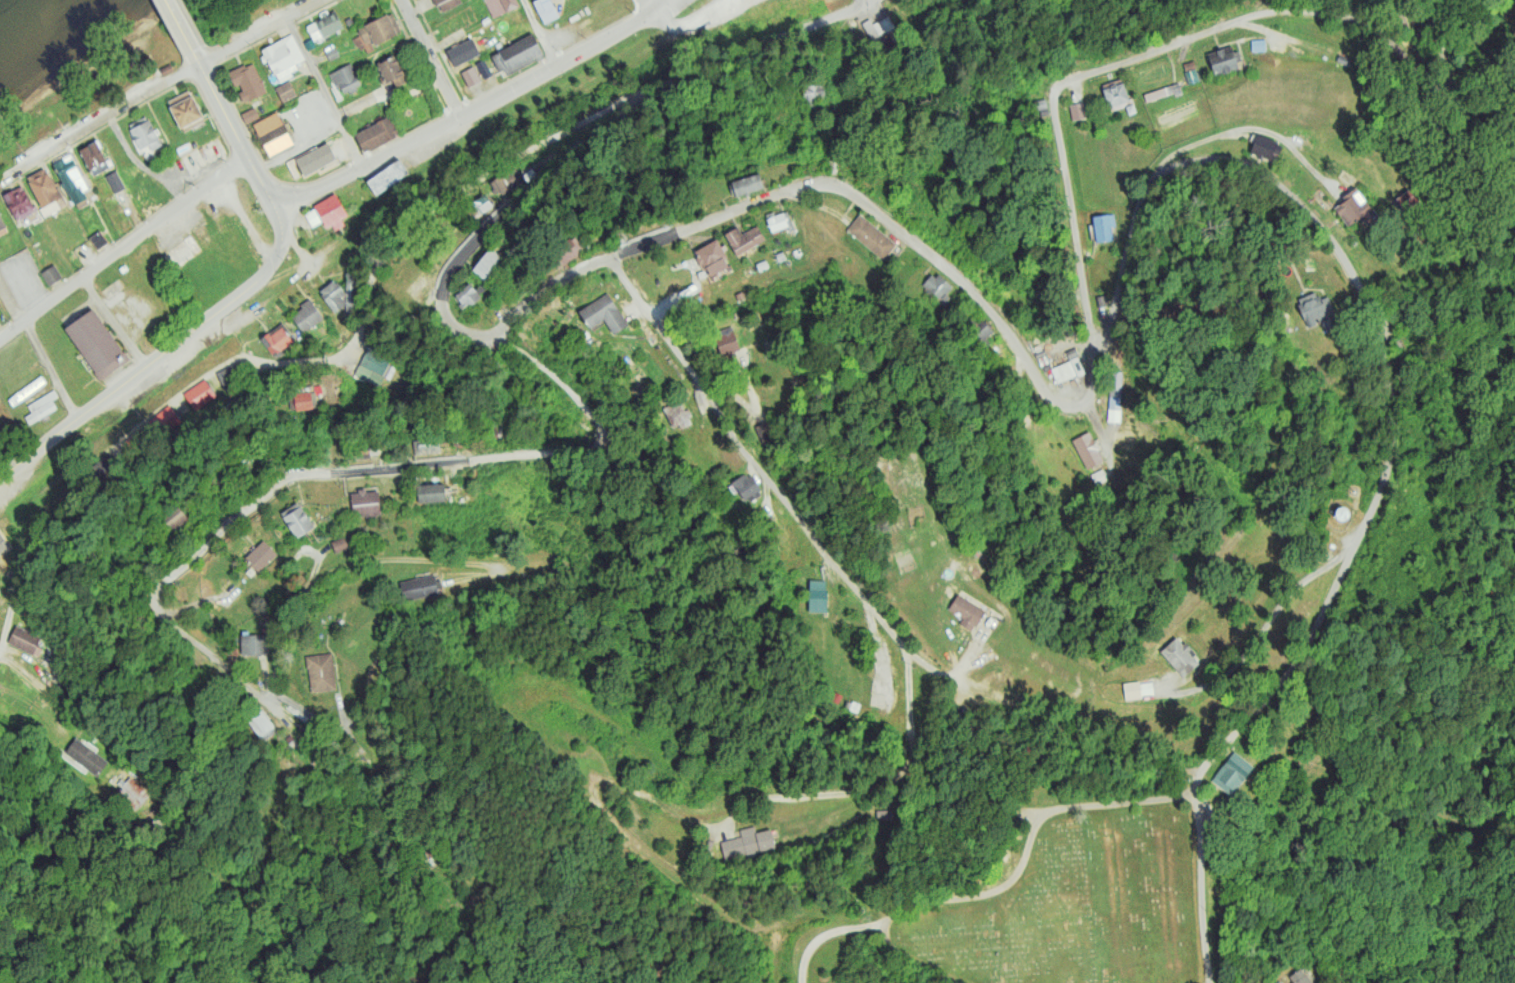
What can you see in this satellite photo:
road: (863, 0)
building: (446, 4)
building: (500, 6)
road: (643, 8)
building: (546, 10)
river: (12, 12)
building: (324, 27)
road: (182, 31)
building: (378, 31)
road: (537, 33)
building: (872, 34)
building: (1258, 46)
building: (520, 52)
building: (331, 53)
building: (464, 53)
building: (282, 57)
road: (428, 59)
building: (1342, 60)
road: (1122, 61)
building: (1223, 63)
building: (483, 68)
building: (392, 72)
building: (470, 75)
building: (1191, 77)
building: (345, 80)
building: (1151, 81)
road: (157, 83)
building: (246, 83)
building: (815, 91)
building: (1163, 91)
building: (285, 92)
road: (322, 94)
road: (646, 94)
building: (1117, 96)
building: (1041, 103)
road: (482, 104)
building: (1076, 110)
building: (187, 113)
building: (250, 115)
building: (144, 134)
building: (273, 134)
building: (763, 135)
building: (376, 136)
road: (237, 140)
building: (1264, 149)
building: (95, 159)
building: (834, 167)
building: (527, 176)
building: (386, 178)
building: (72, 181)
building: (115, 182)
building: (504, 184)
building: (748, 185)
building: (43, 189)
road: (790, 190)
building: (145, 191)
building: (19, 204)
building: (482, 205)
building: (1358, 212)
building: (328, 217)
building: (777, 223)
building: (2, 224)
building: (1102, 228)
building: (871, 238)
building: (98, 240)
building: (744, 240)
road: (123, 248)
building: (565, 251)
building: (708, 253)
building: (780, 257)
building: (488, 266)
building: (758, 269)
building: (50, 276)
building: (941, 289)
building: (421, 290)
building: (333, 296)
building: (350, 296)
building: (740, 296)
building: (468, 298)
building: (1314, 310)
building: (604, 314)
building: (306, 316)
building: (977, 330)
building: (276, 340)
building: (726, 340)
building: (94, 341)
road: (38, 349)
road: (164, 351)
road: (308, 362)
building: (370, 369)
building: (1066, 371)
building: (228, 372)
road: (1404, 382)
building: (26, 391)
building: (1114, 395)
building: (197, 400)
building: (302, 400)
building: (40, 408)
building: (676, 414)
building: (502, 440)
building: (425, 446)
building: (1086, 450)
building: (362, 451)
road: (394, 464)
building: (746, 486)
building: (430, 493)
building: (365, 504)
building: (176, 522)
building: (298, 523)
building: (339, 543)
building: (260, 557)
road: (830, 559)
building: (2, 563)
road: (338, 567)
building: (419, 586)
building: (816, 595)
building: (966, 611)
building: (25, 640)
building: (253, 644)
building: (1179, 655)
building: (320, 671)
building: (1131, 689)
road: (56, 701)
building: (259, 722)
building: (85, 756)
building: (1231, 772)
building: (132, 792)
building: (747, 842)
road: (679, 881)
road: (1000, 890)
park: (1081, 908)
building: (1298, 977)

